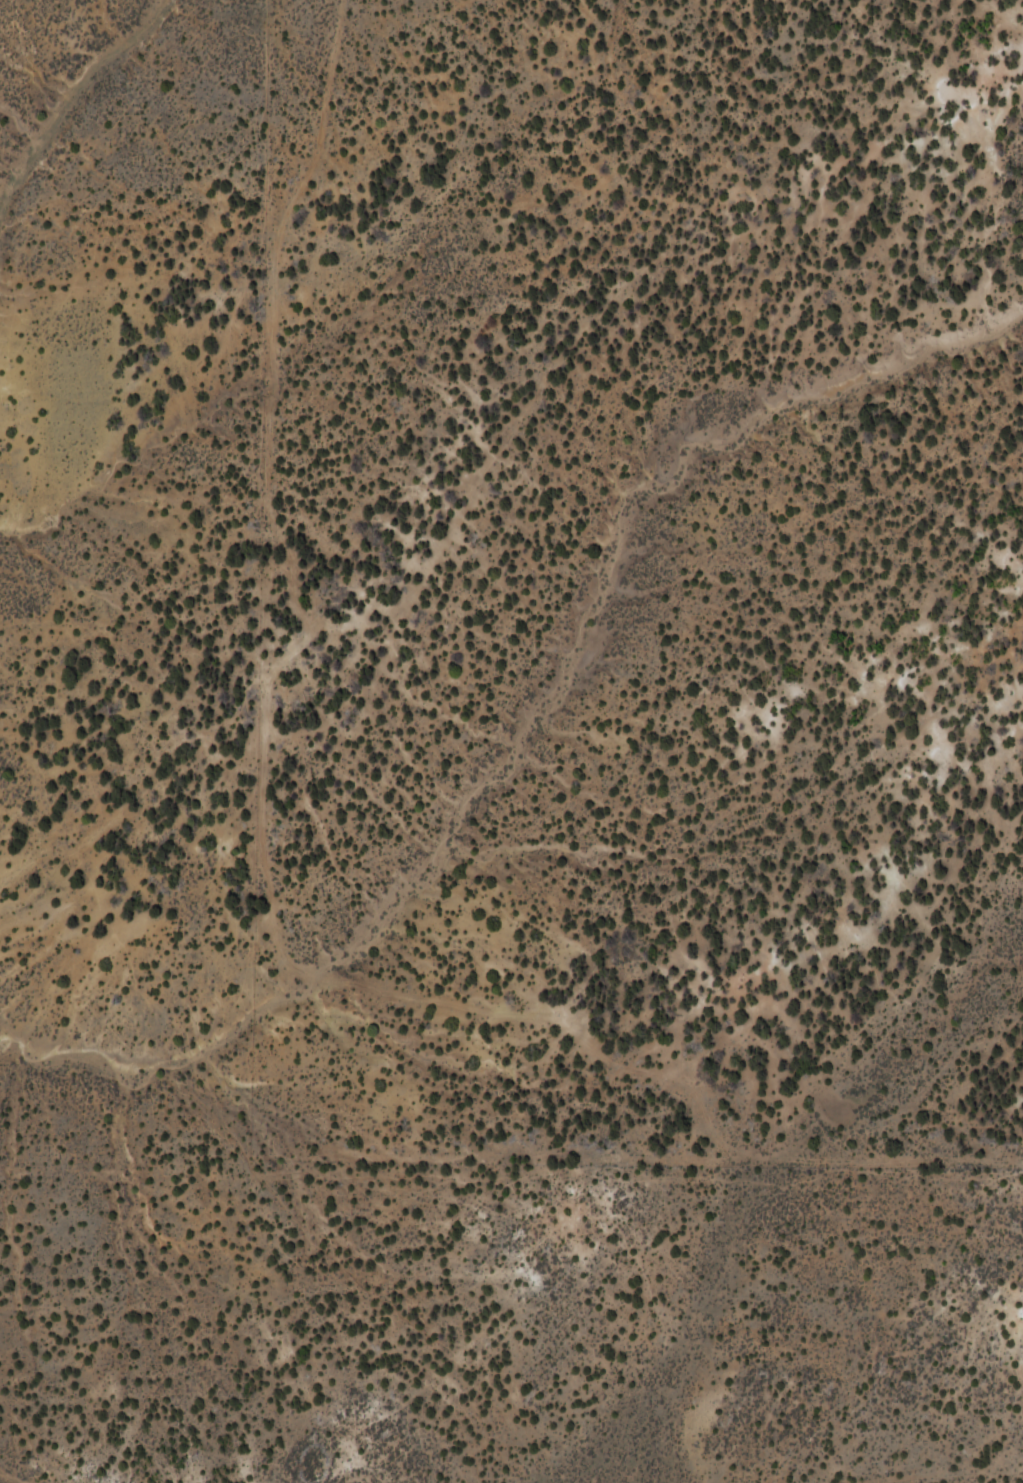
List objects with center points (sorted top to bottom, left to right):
road: (13, 1476)

